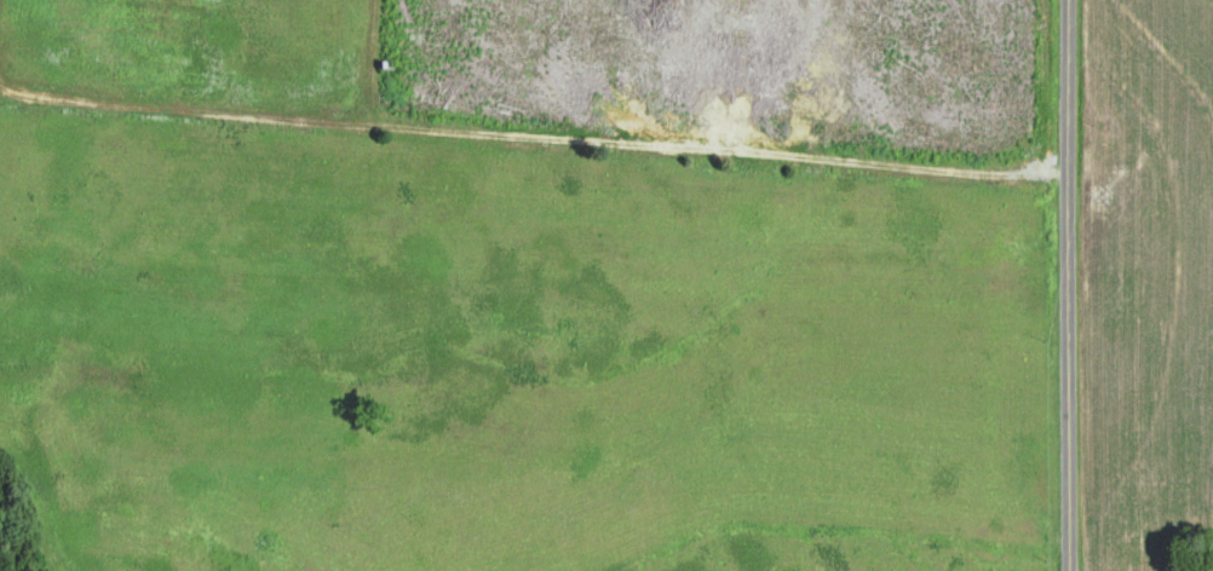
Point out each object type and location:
road: (1071, 285)

